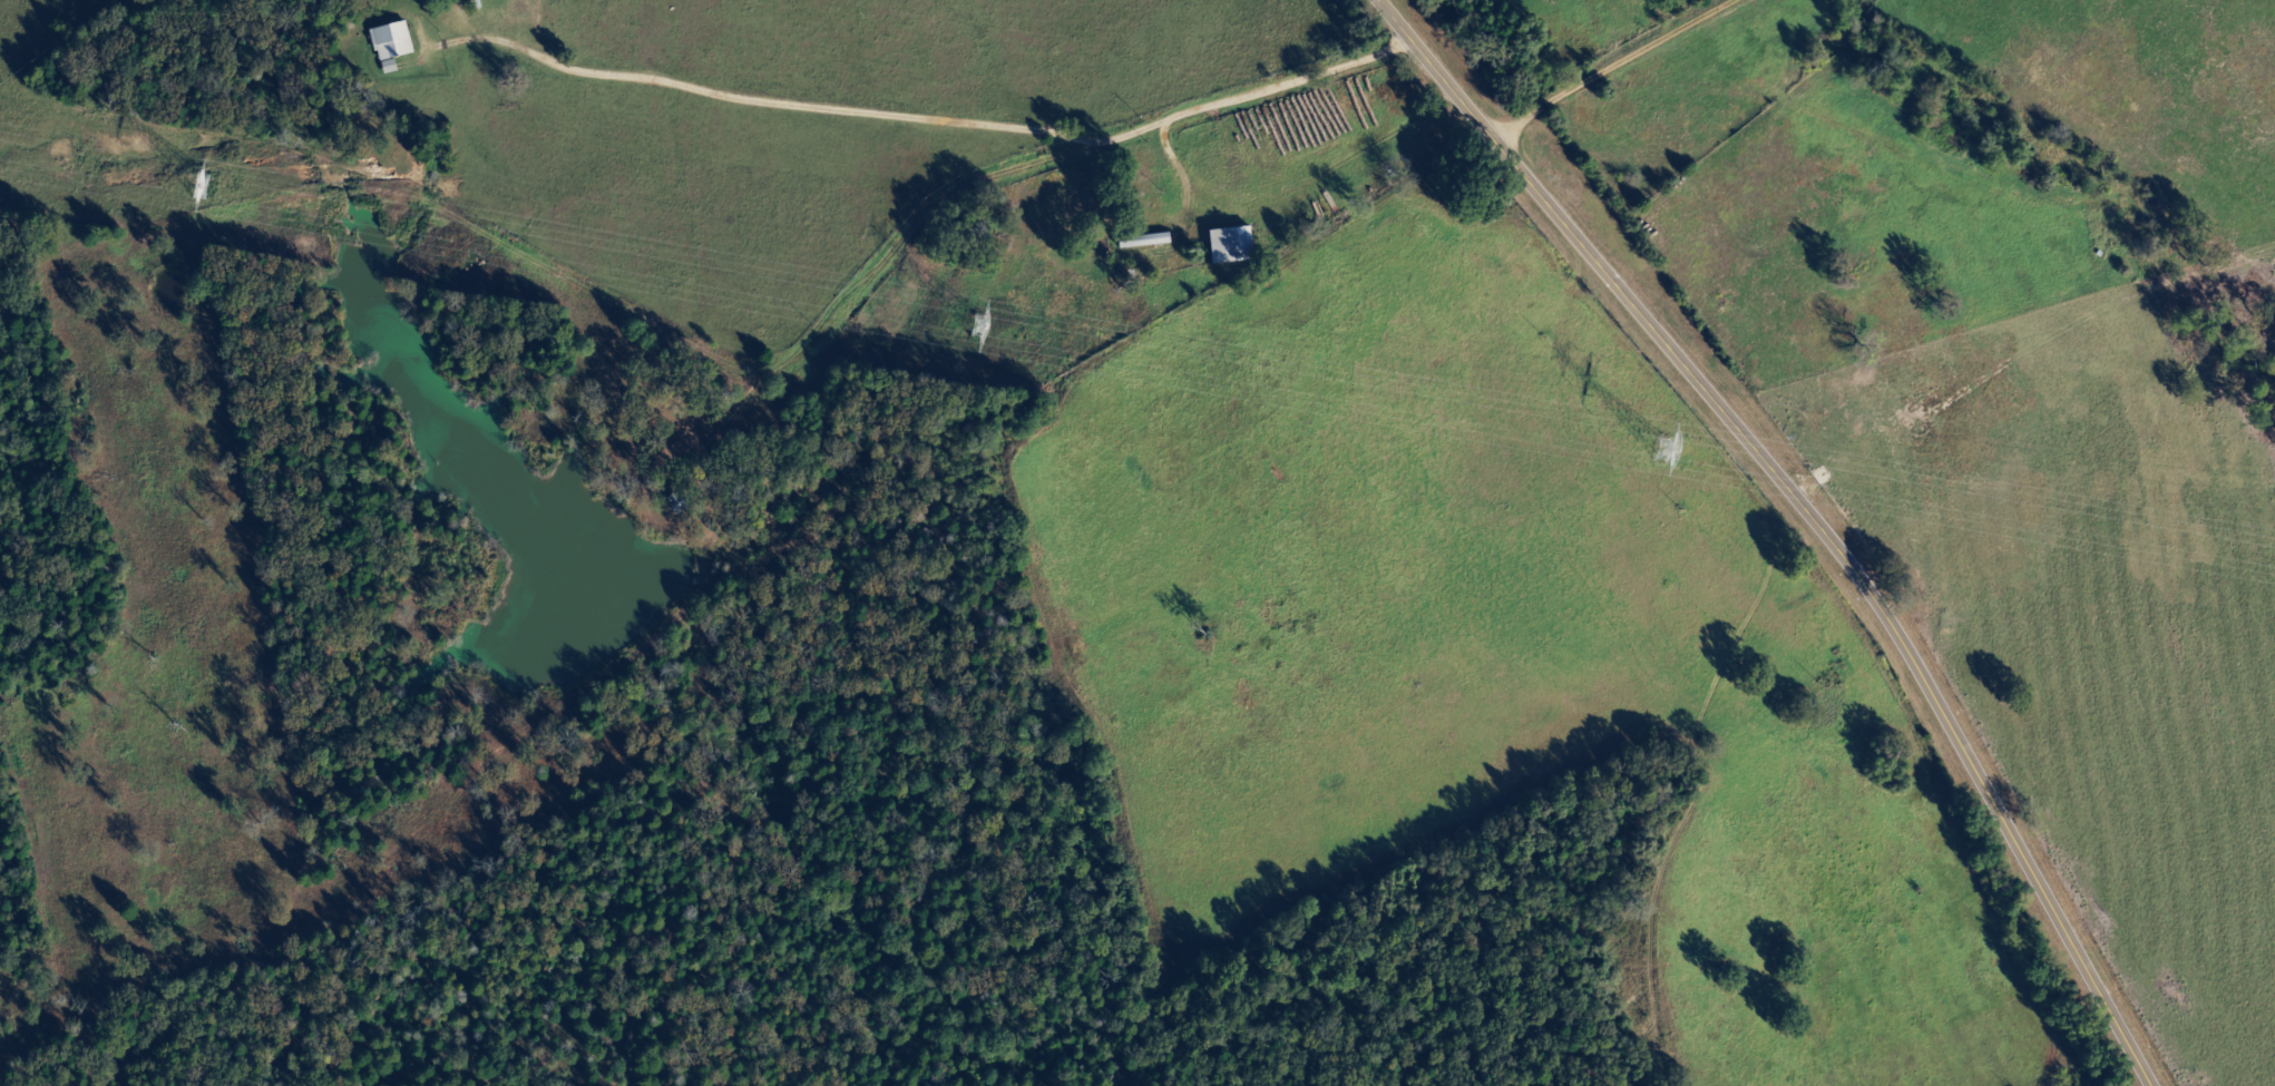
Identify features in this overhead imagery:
building: (392, 42)
building: (390, 67)
road: (1129, 118)
road: (1982, 159)
power tower: (228, 188)
building: (1145, 242)
building: (1232, 246)
power tower: (982, 326)
power tower: (1688, 452)
road: (496, 509)
road: (1807, 512)
road: (379, 580)

